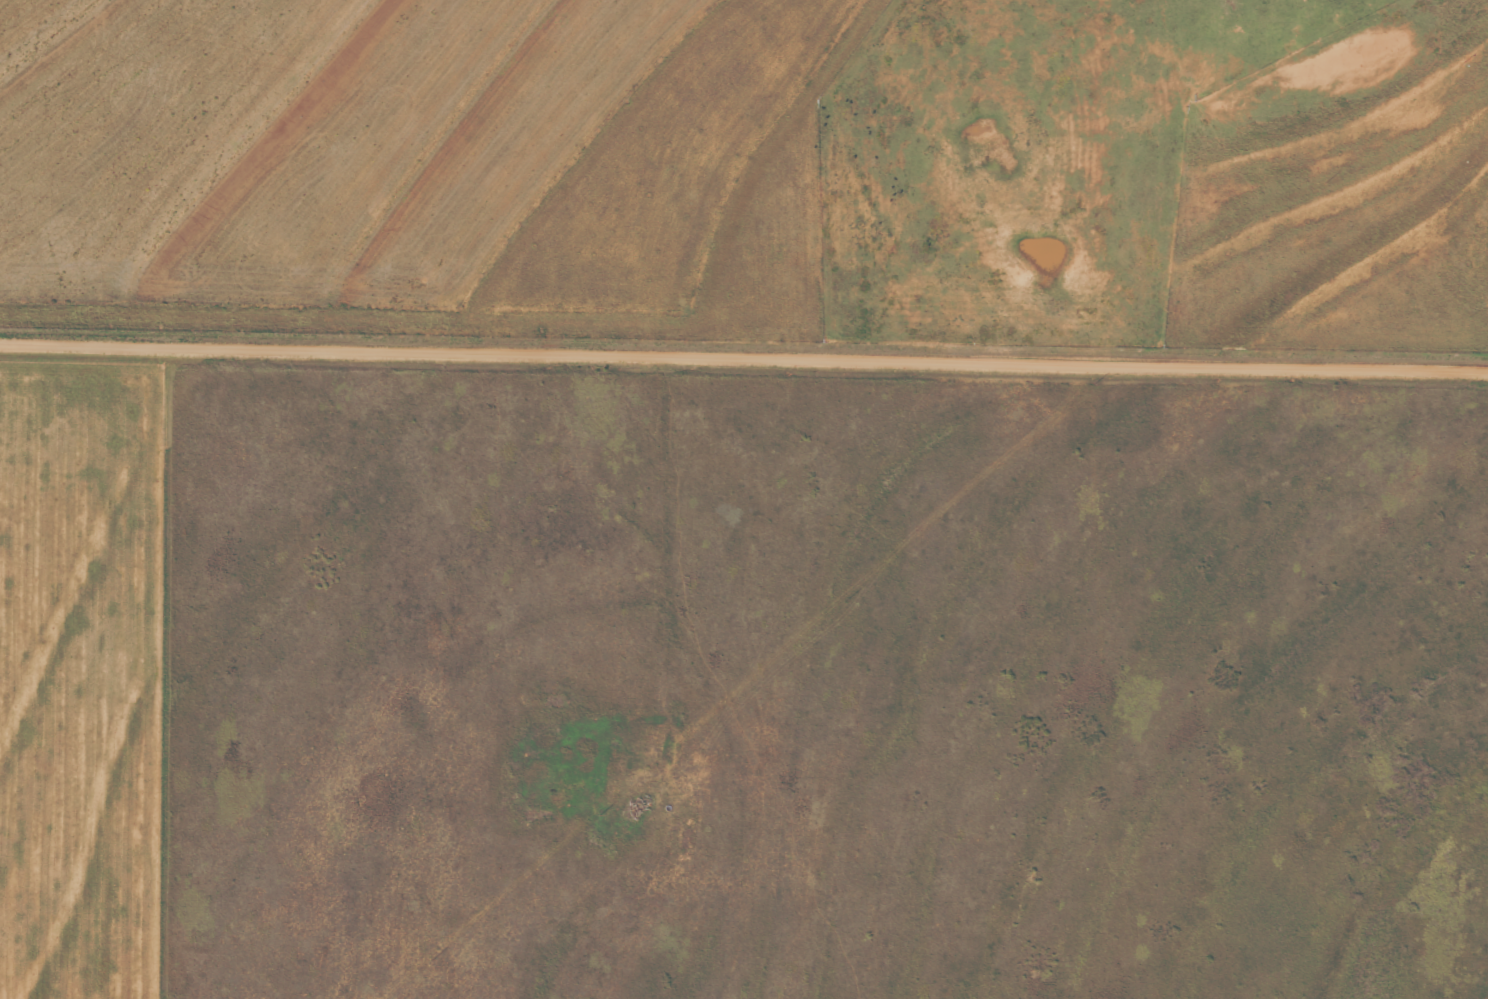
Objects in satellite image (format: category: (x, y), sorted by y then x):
road: (744, 351)
road: (670, 528)

